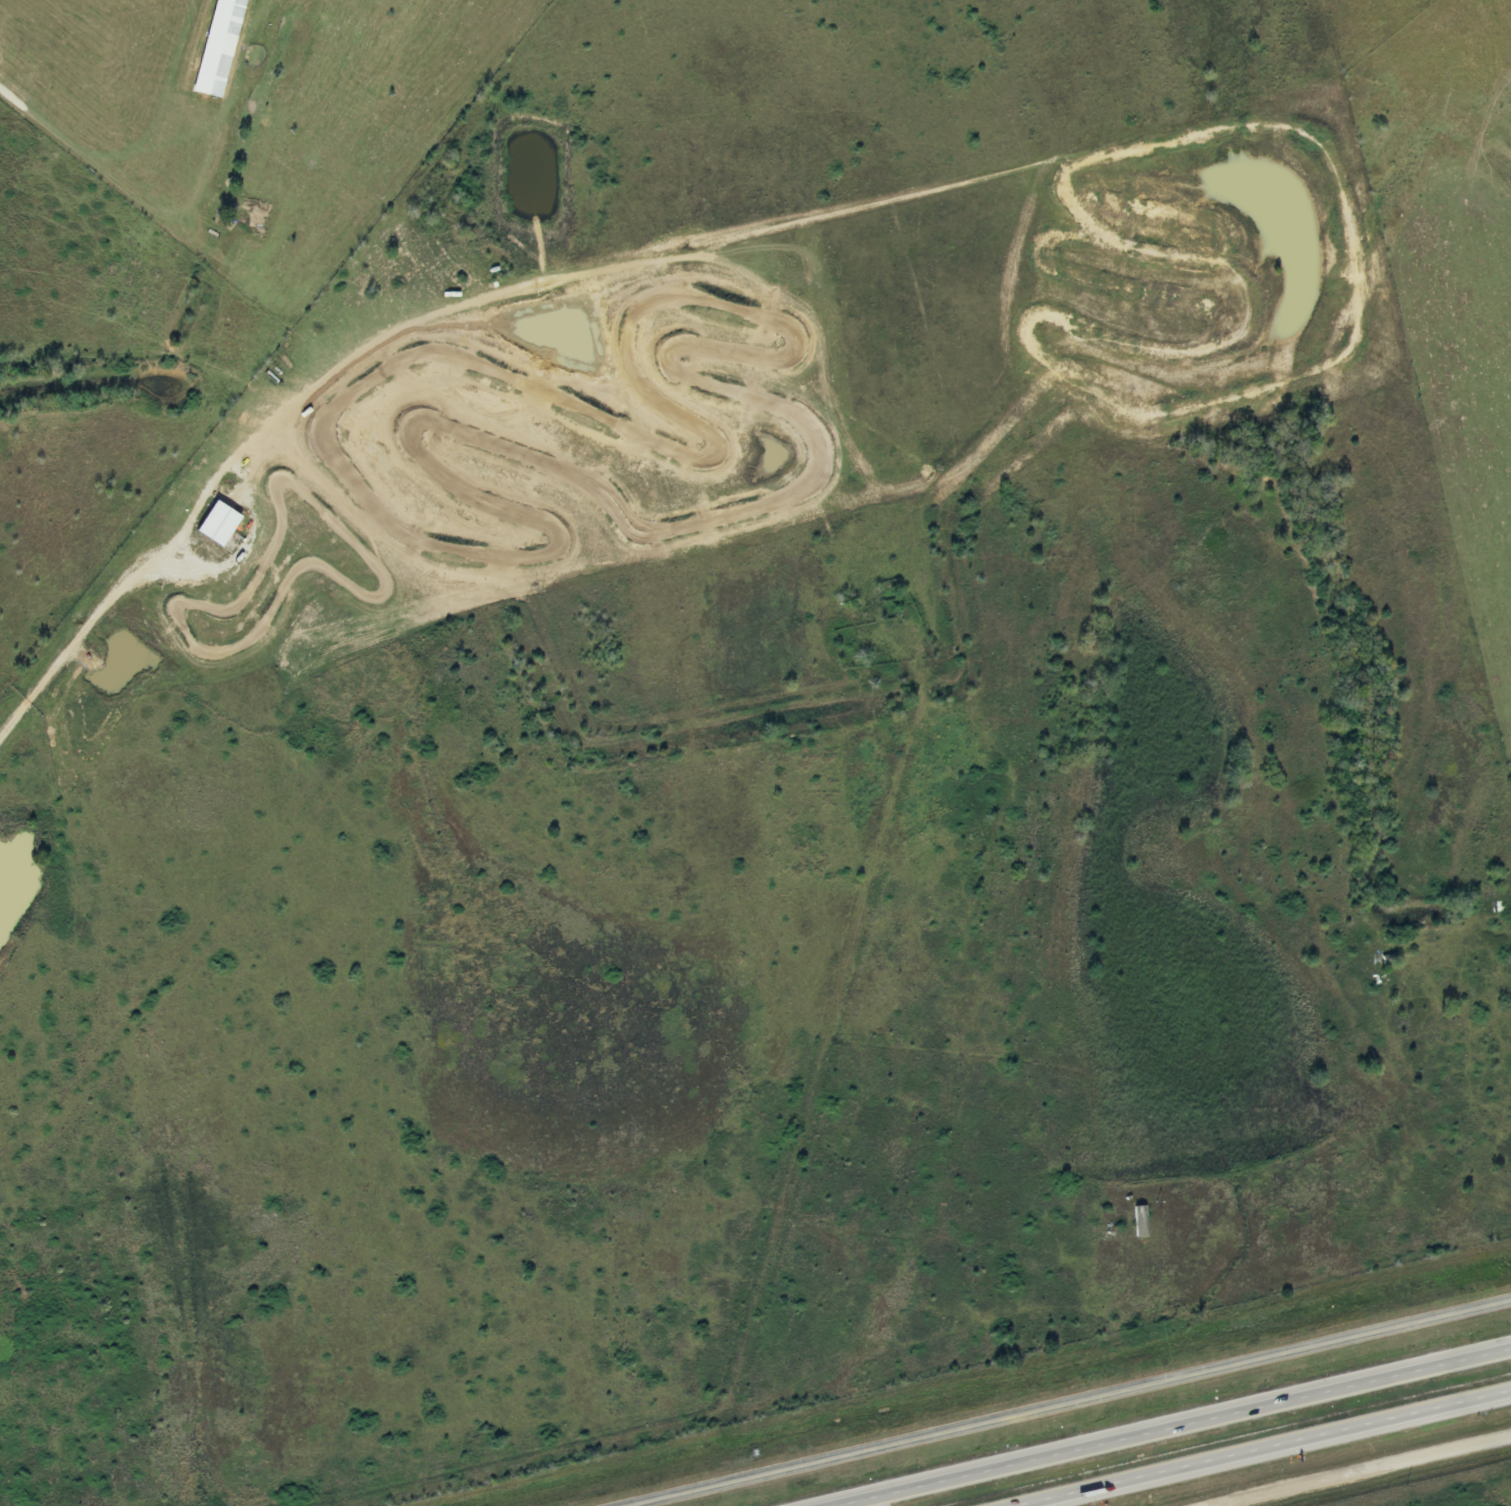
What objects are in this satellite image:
building: (217, 50)
building: (218, 524)
road: (1069, 1403)
road: (1173, 1427)
road: (1266, 1448)
road: (1360, 1471)

